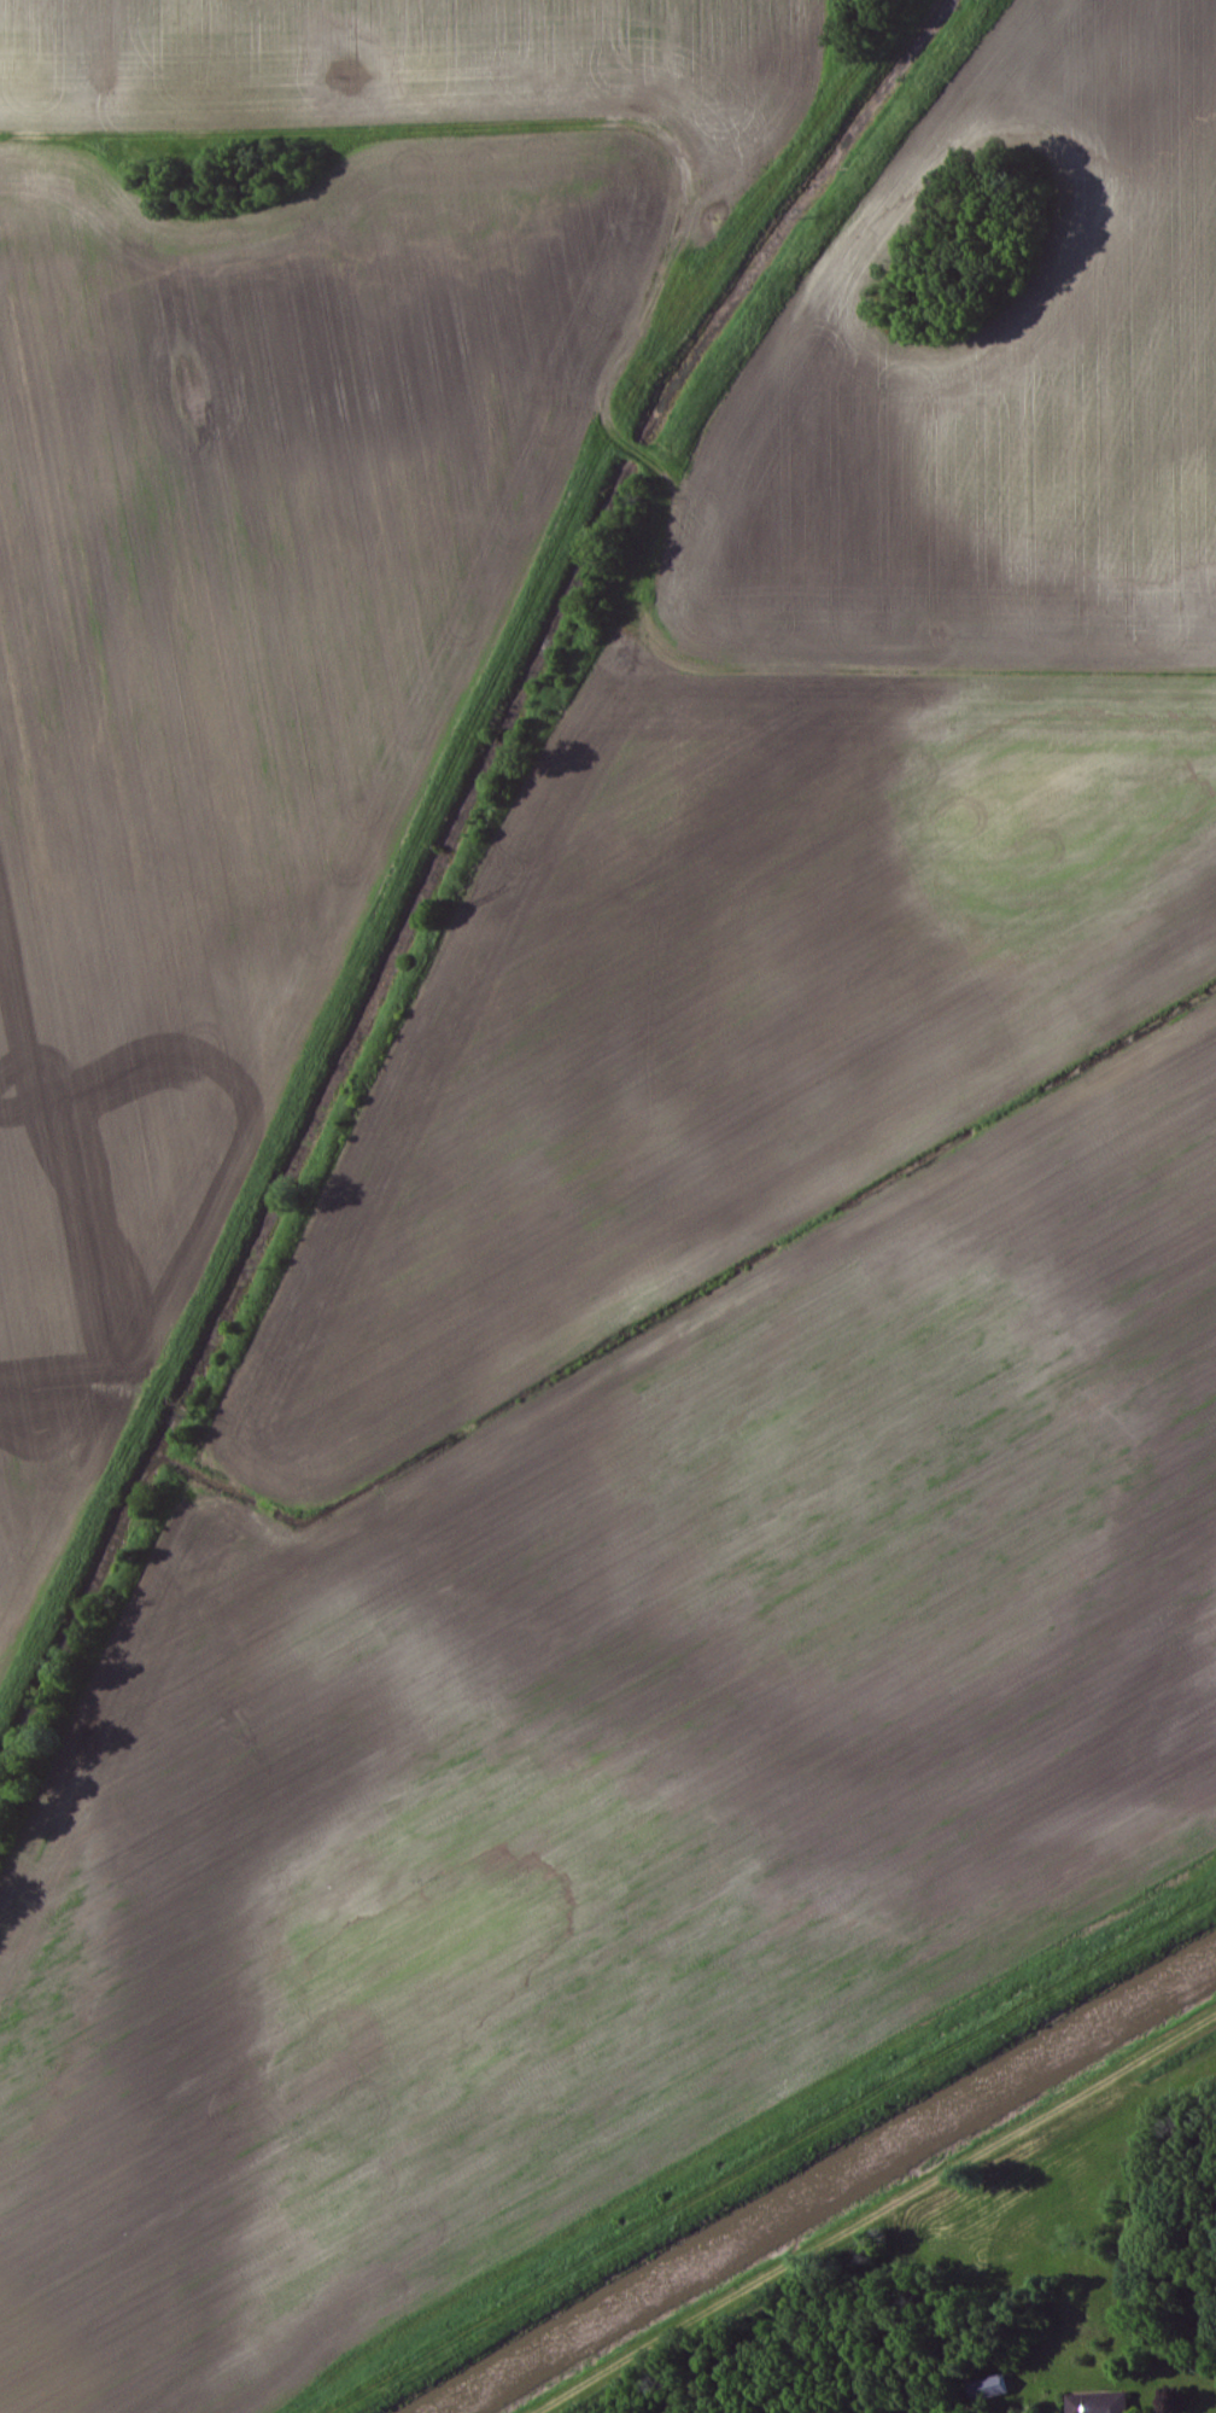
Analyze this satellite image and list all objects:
building: (1105, 2403)

